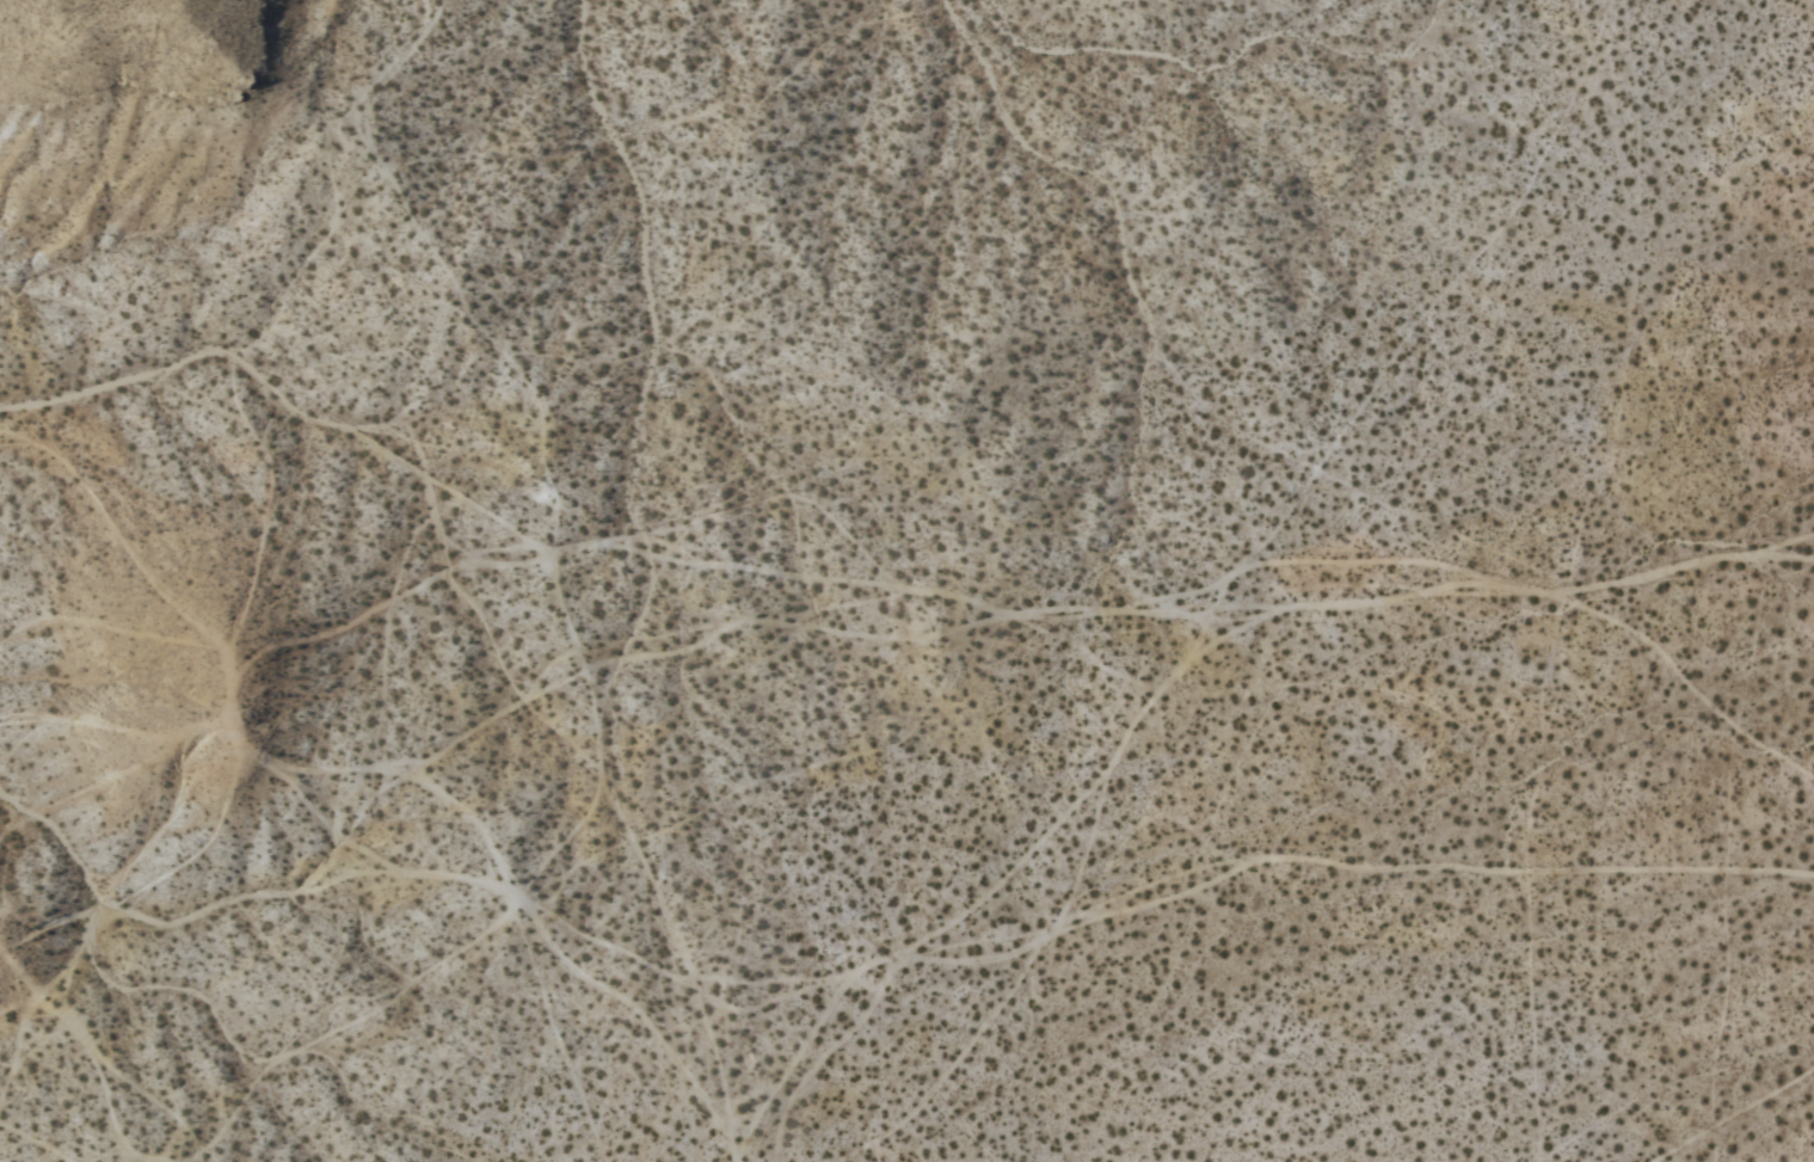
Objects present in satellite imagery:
crop: (908, 878)

